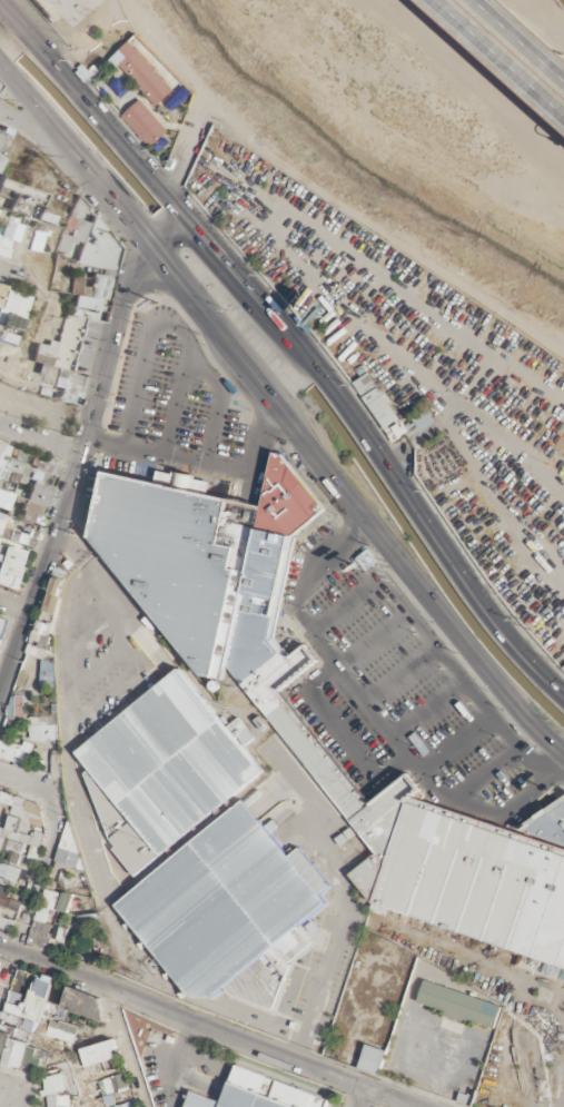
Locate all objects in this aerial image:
park: (81, 19)
road: (532, 28)
road: (511, 46)
road: (469, 80)
road: (27, 120)
road: (187, 151)
river: (348, 165)
road: (328, 195)
road: (403, 298)
road: (174, 334)
road: (295, 342)
parking lot: (412, 370)
parking lot: (174, 396)
road: (179, 406)
road: (283, 411)
road: (442, 418)
road: (38, 442)
road: (80, 445)
road: (201, 466)
road: (352, 515)
building: (1, 526)
building: (170, 553)
building: (17, 559)
road: (313, 563)
road: (346, 604)
road: (374, 637)
road: (451, 664)
road: (400, 672)
road: (323, 676)
parking lot: (402, 688)
road: (428, 708)
road: (385, 723)
road: (454, 740)
road: (534, 763)
road: (554, 769)
road: (491, 774)
road: (518, 794)
building: (9, 826)
building: (462, 863)
building: (221, 876)
building: (21, 1044)
building: (88, 1089)
building: (261, 1093)

